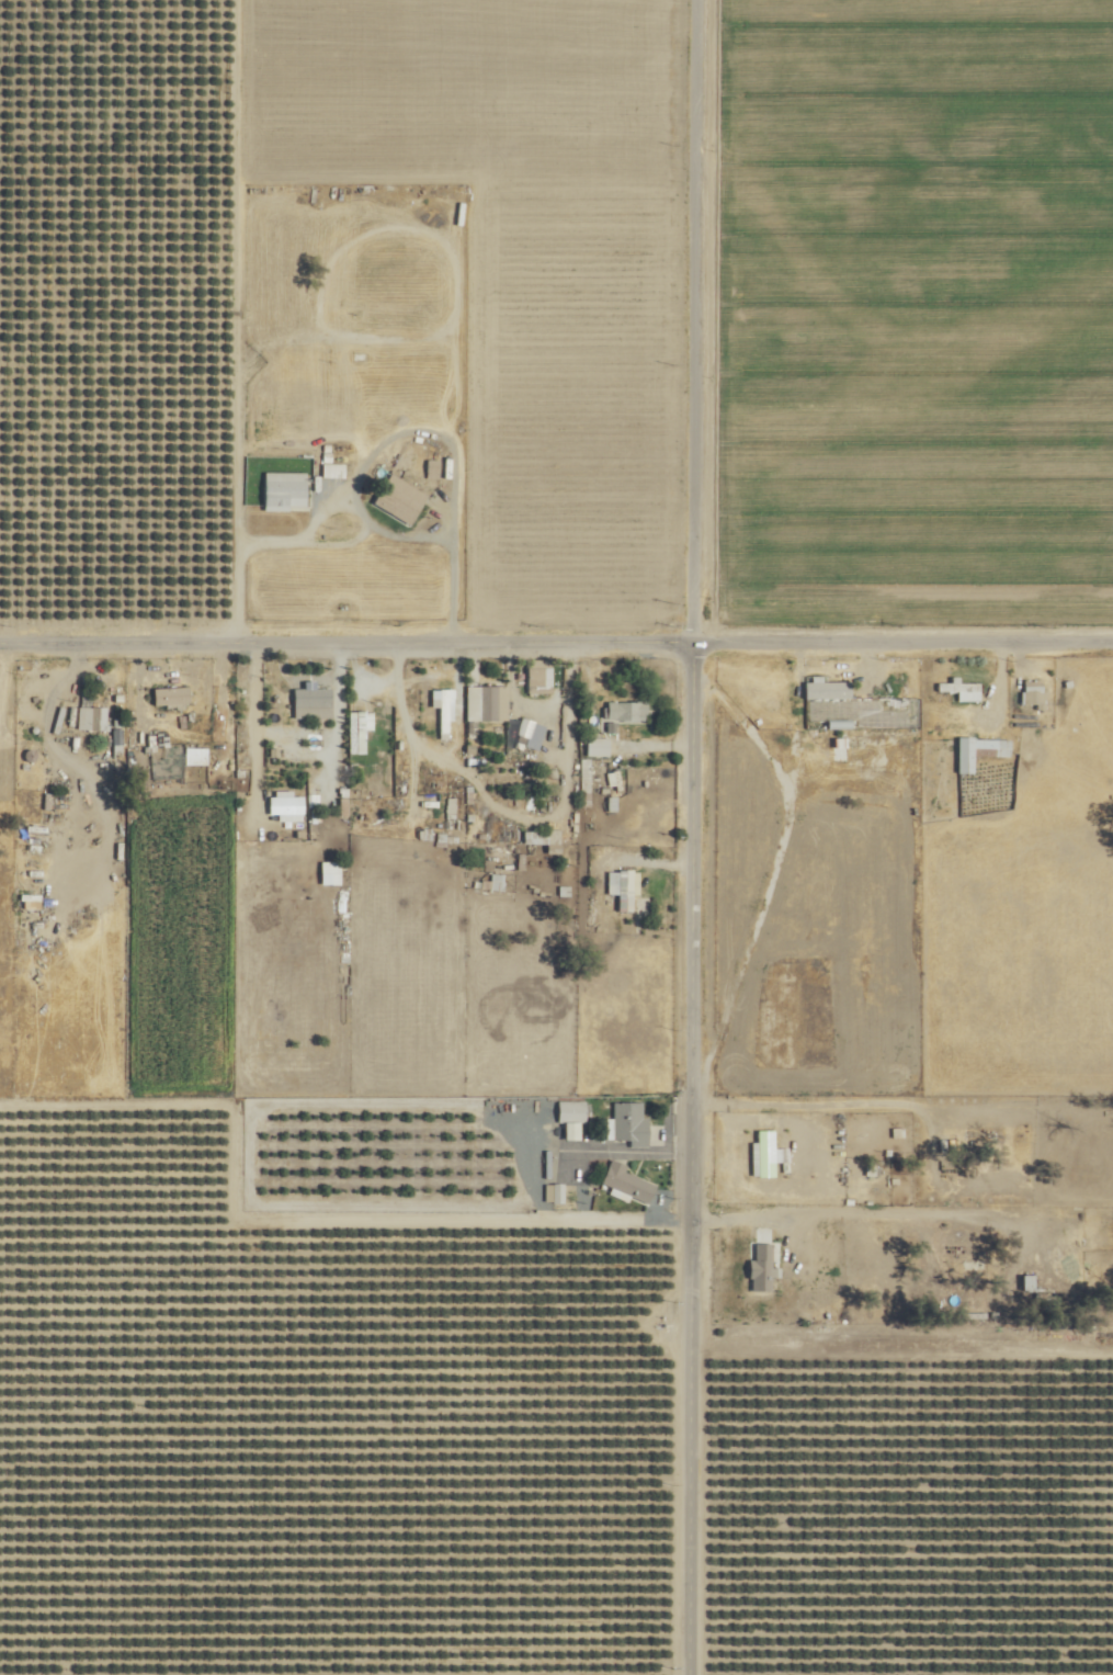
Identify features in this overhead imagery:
crop: (112, 299)
crop: (935, 309)
road: (699, 315)
road: (427, 428)
building: (434, 466)
building: (286, 487)
building: (401, 497)
road: (329, 505)
road: (354, 536)
road: (556, 631)
road: (1000, 674)
building: (958, 687)
building: (171, 694)
building: (314, 700)
building: (487, 701)
building: (444, 705)
building: (626, 709)
building: (88, 716)
building: (360, 728)
building: (532, 731)
building: (598, 745)
building: (980, 745)
building: (287, 805)
building: (331, 871)
building: (572, 1107)
building: (631, 1121)
road: (633, 1148)
road: (694, 1152)
building: (765, 1165)
building: (627, 1179)
building: (555, 1192)
building: (763, 1266)
crop: (481, 1440)

